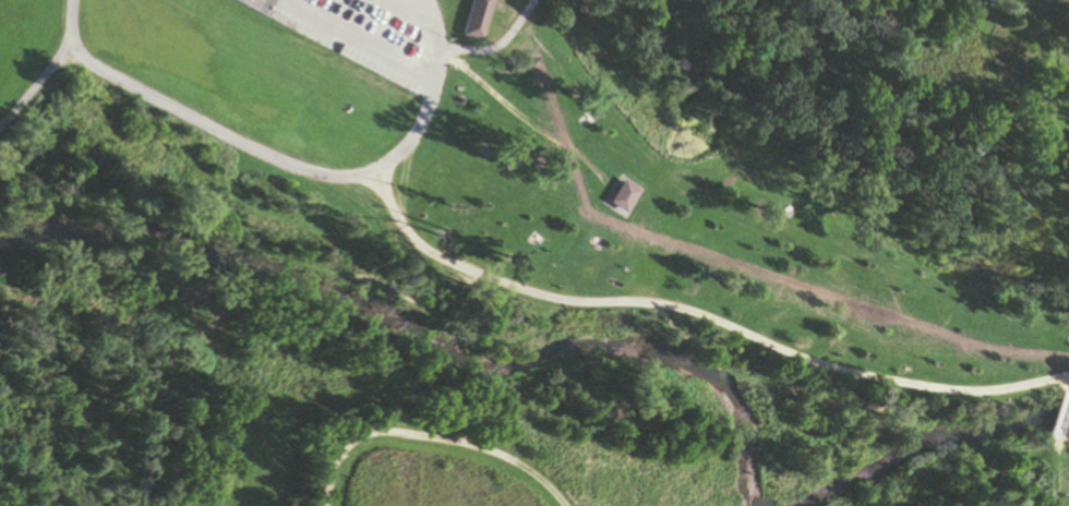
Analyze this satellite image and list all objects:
park: (261, 4)
building: (477, 19)
parking lot: (382, 36)
road: (365, 40)
road: (495, 44)
road: (33, 86)
road: (520, 118)
road: (280, 160)
building: (622, 196)
park: (497, 265)
road: (697, 315)
road: (1058, 411)
road: (424, 437)
road: (1050, 470)
road: (1062, 497)

